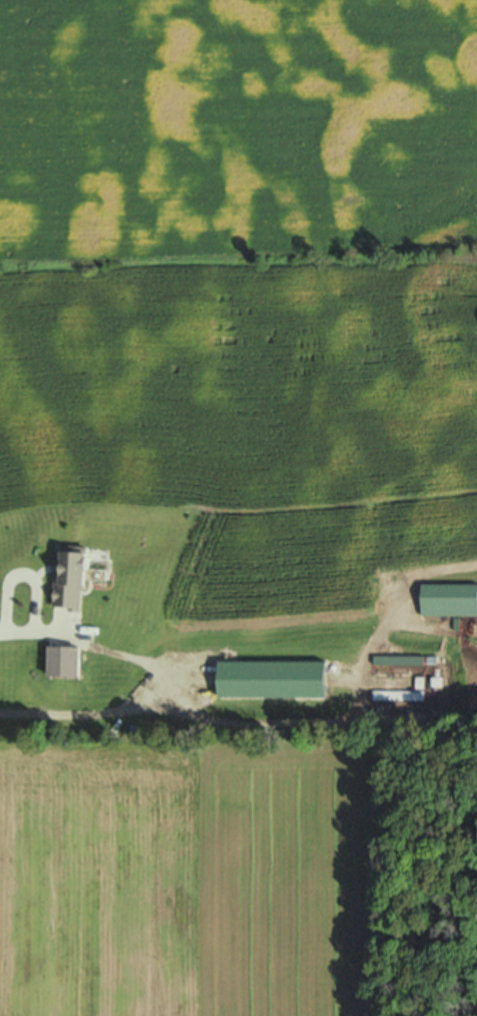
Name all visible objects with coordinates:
building: (73, 574)
road: (150, 678)

